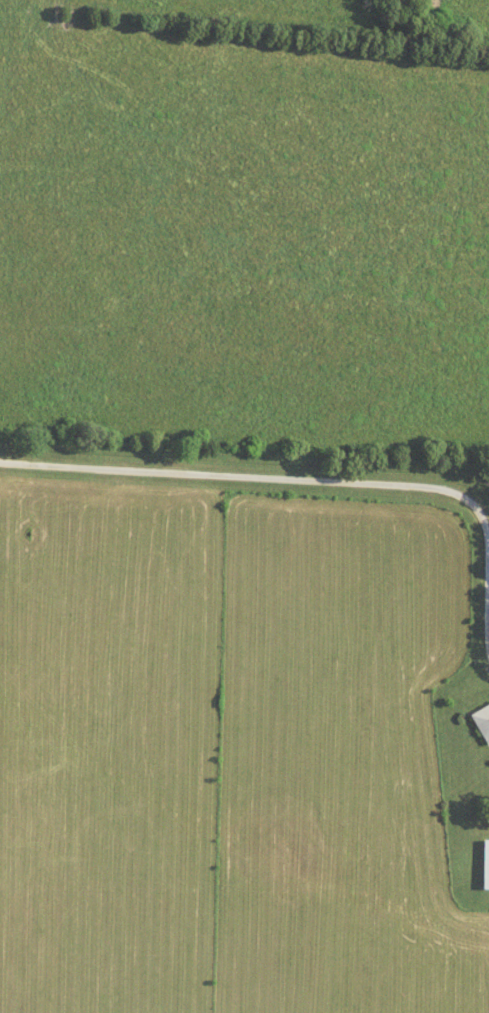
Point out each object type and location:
road: (306, 477)
building: (482, 722)
building: (485, 865)

